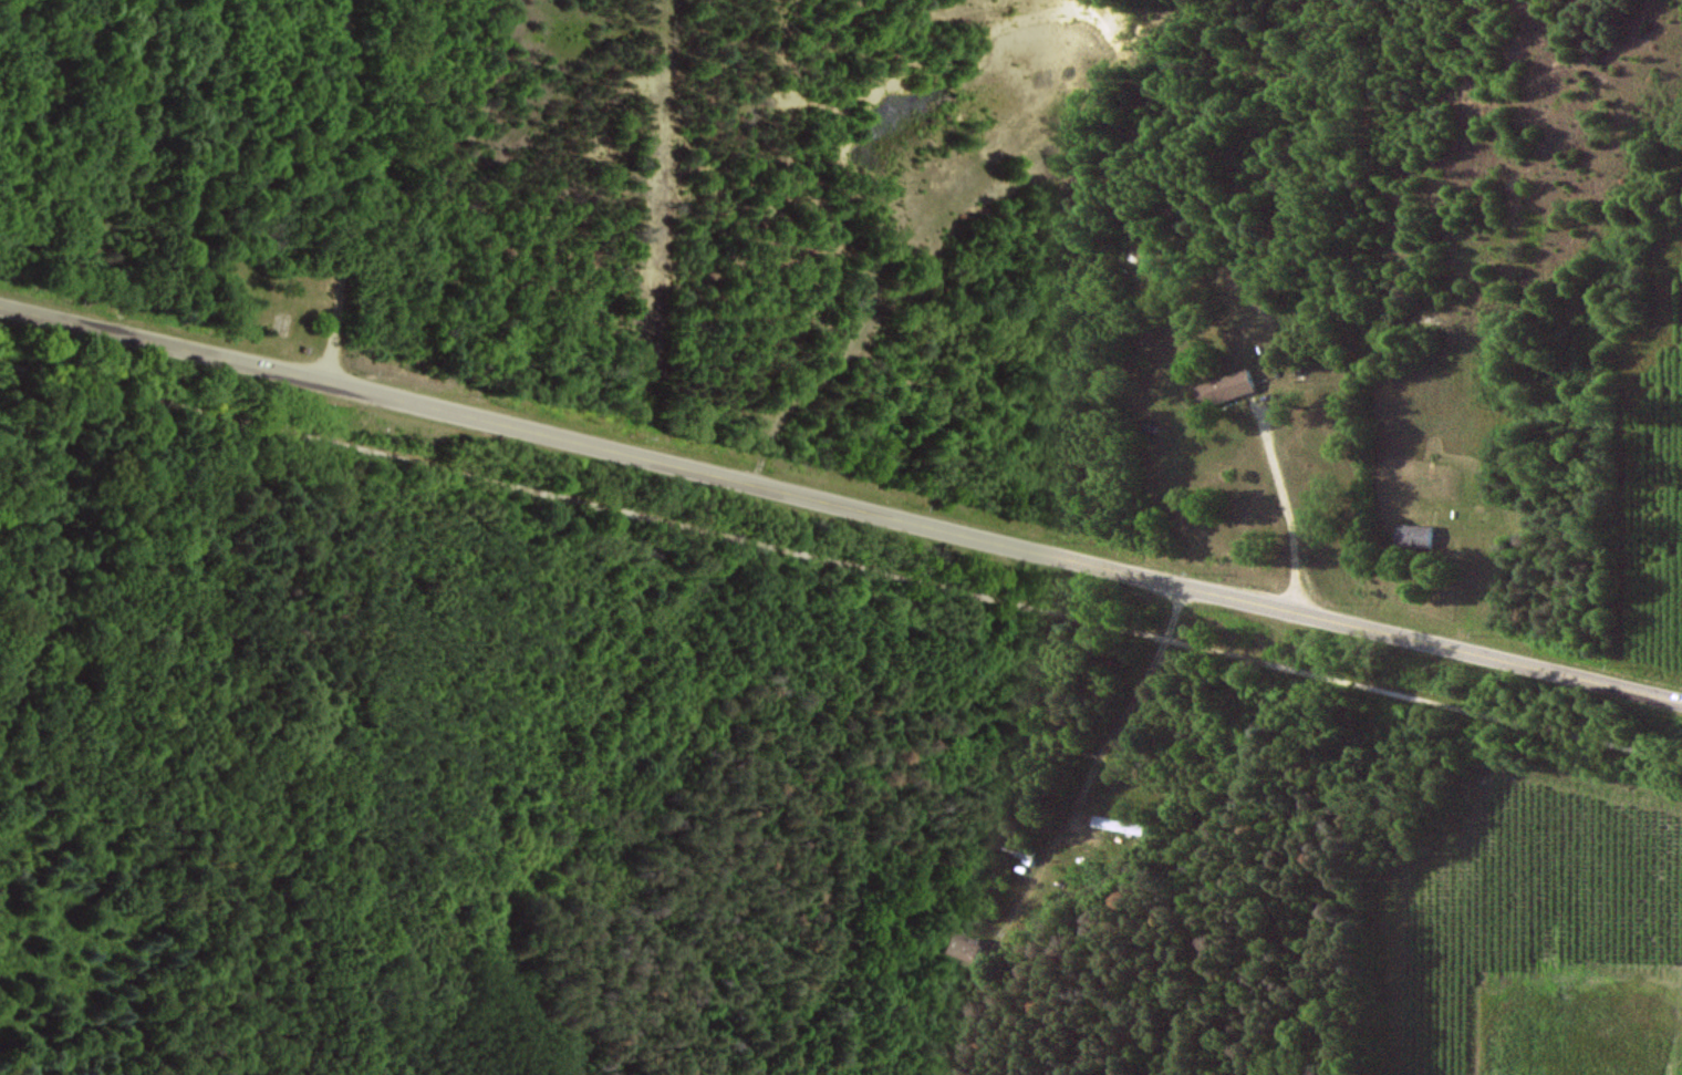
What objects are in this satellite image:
road: (349, 190)
building: (1228, 389)
road: (840, 502)
road: (1284, 515)
building: (1418, 536)
road: (841, 562)
road: (1097, 763)
building: (1120, 825)
building: (963, 949)

